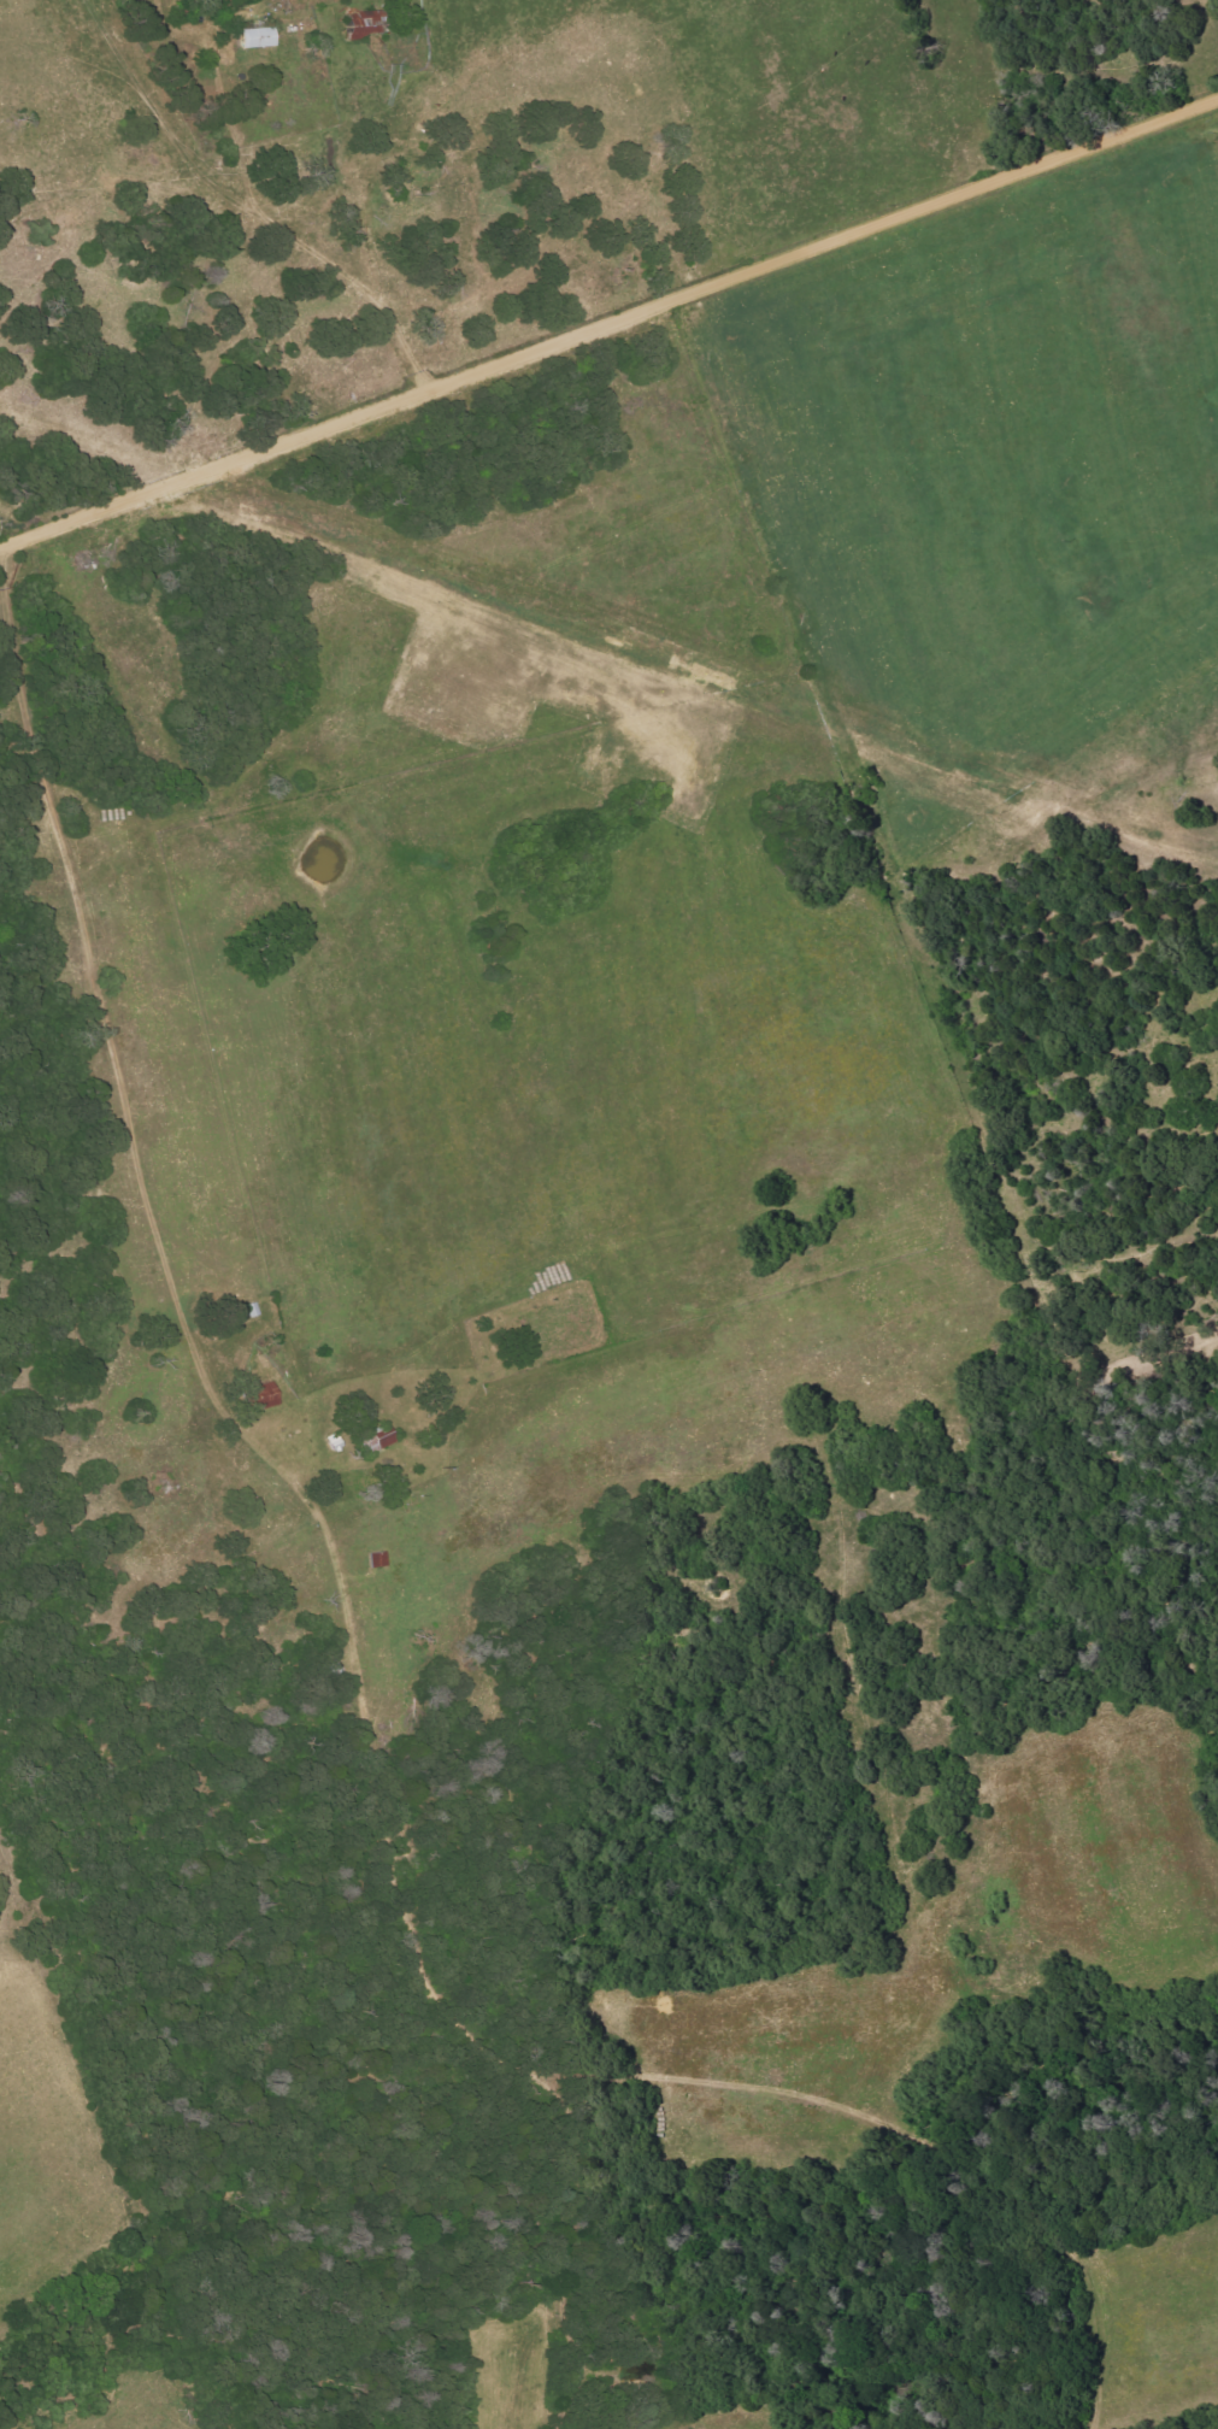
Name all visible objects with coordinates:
building: (365, 25)
building: (257, 37)
road: (254, 206)
road: (608, 324)
road: (101, 1243)
building: (263, 1396)
building: (378, 1442)

